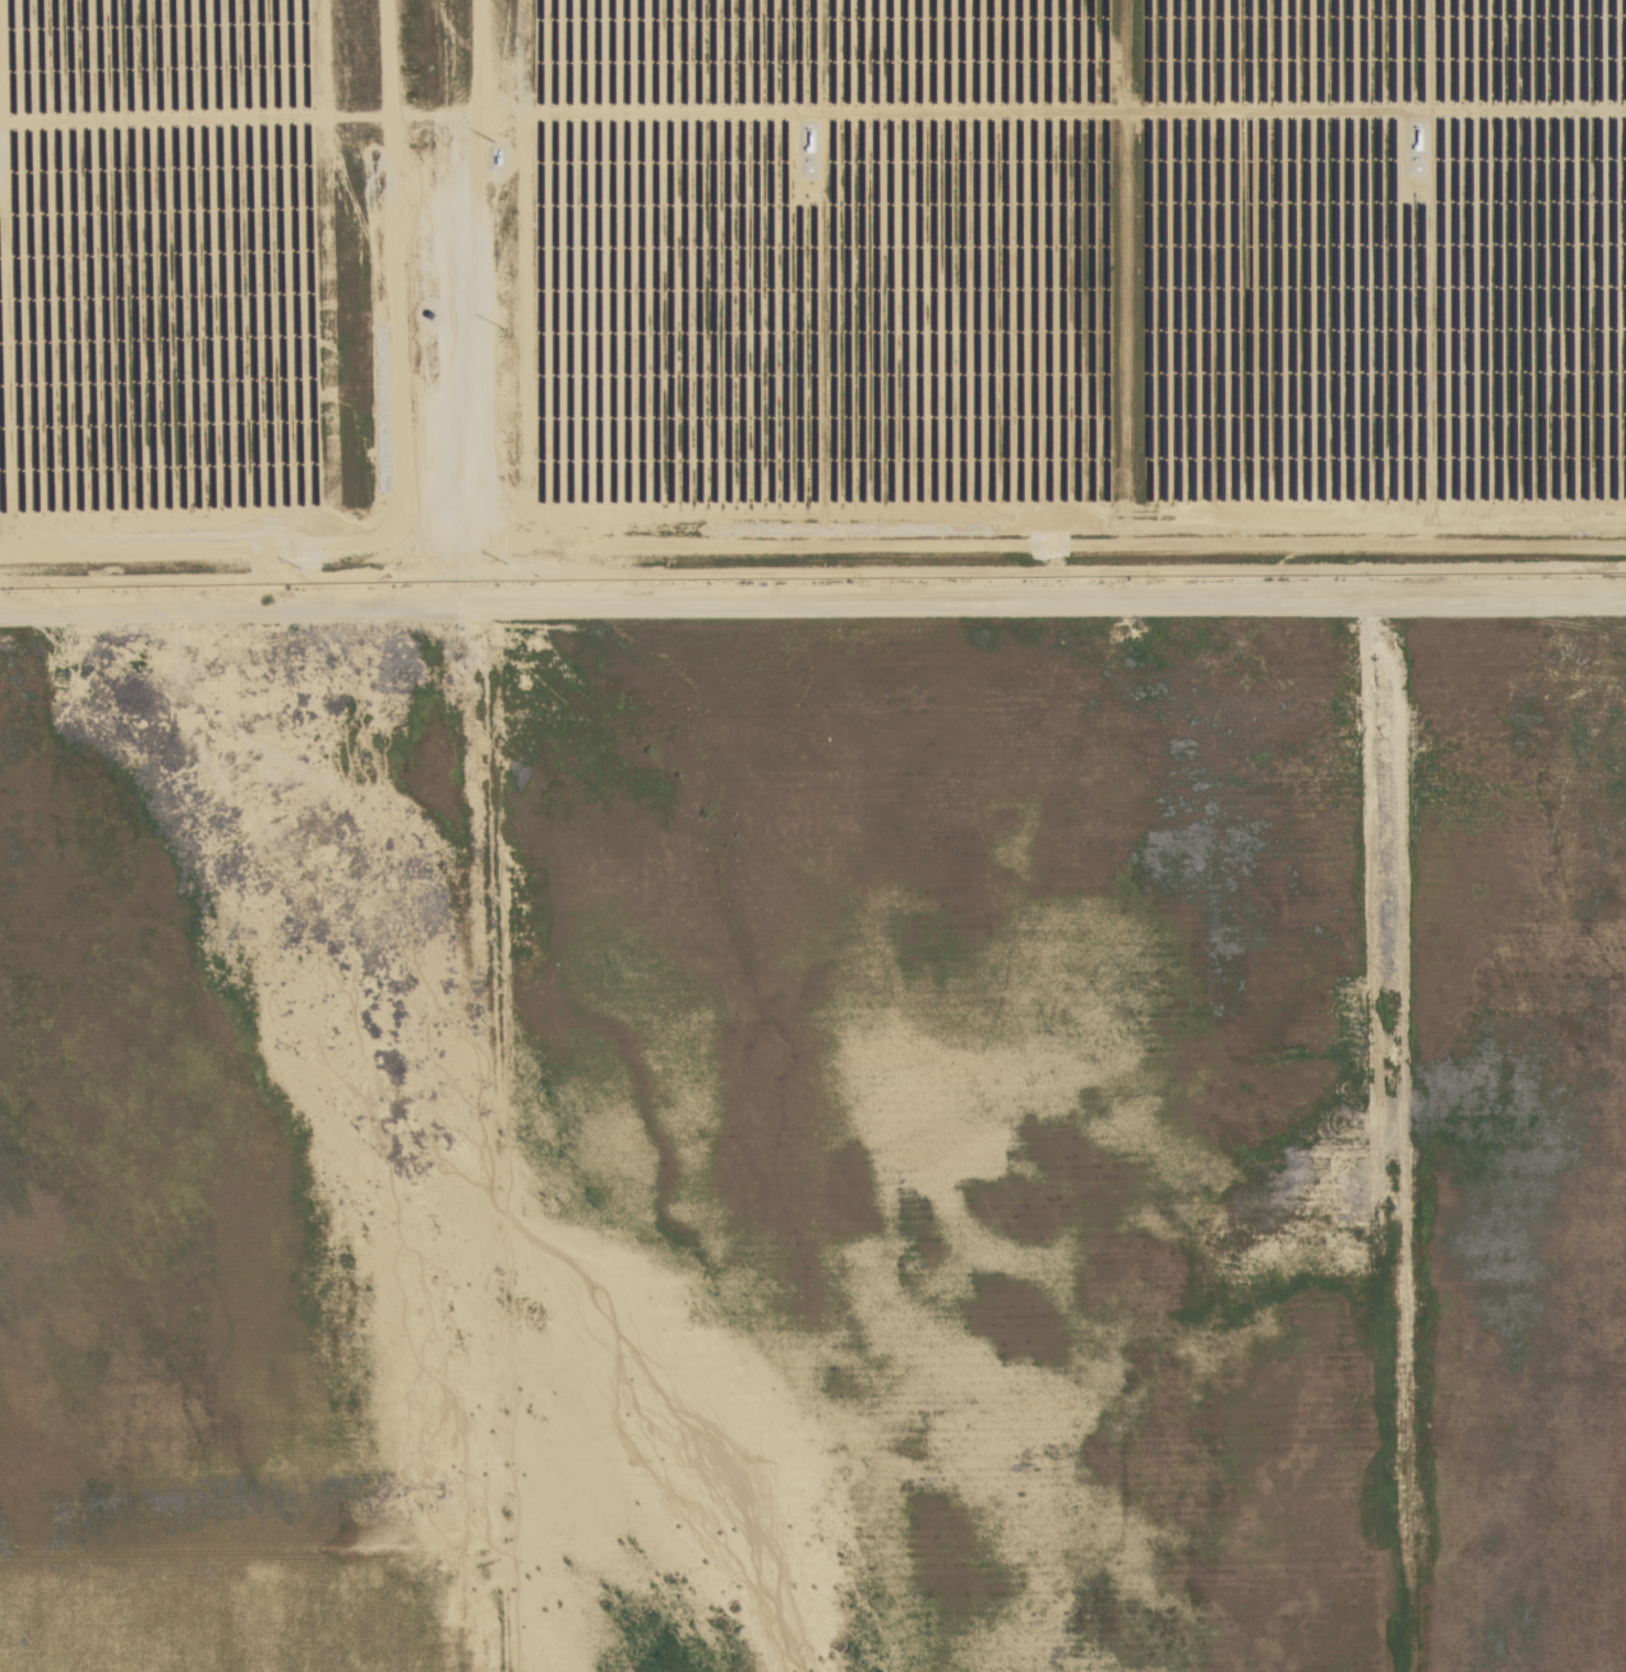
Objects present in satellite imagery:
solar farm: (808, 289)
road: (812, 600)

